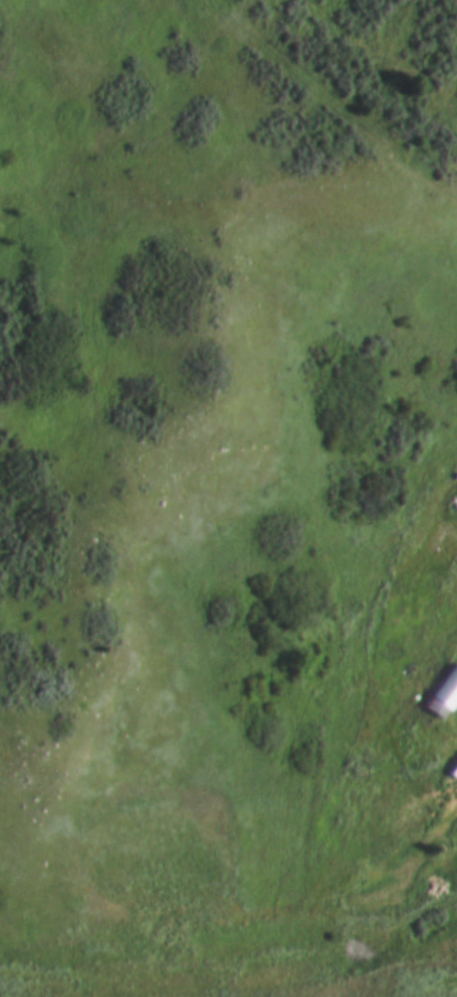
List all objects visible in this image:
building: (441, 691)
road: (454, 730)

